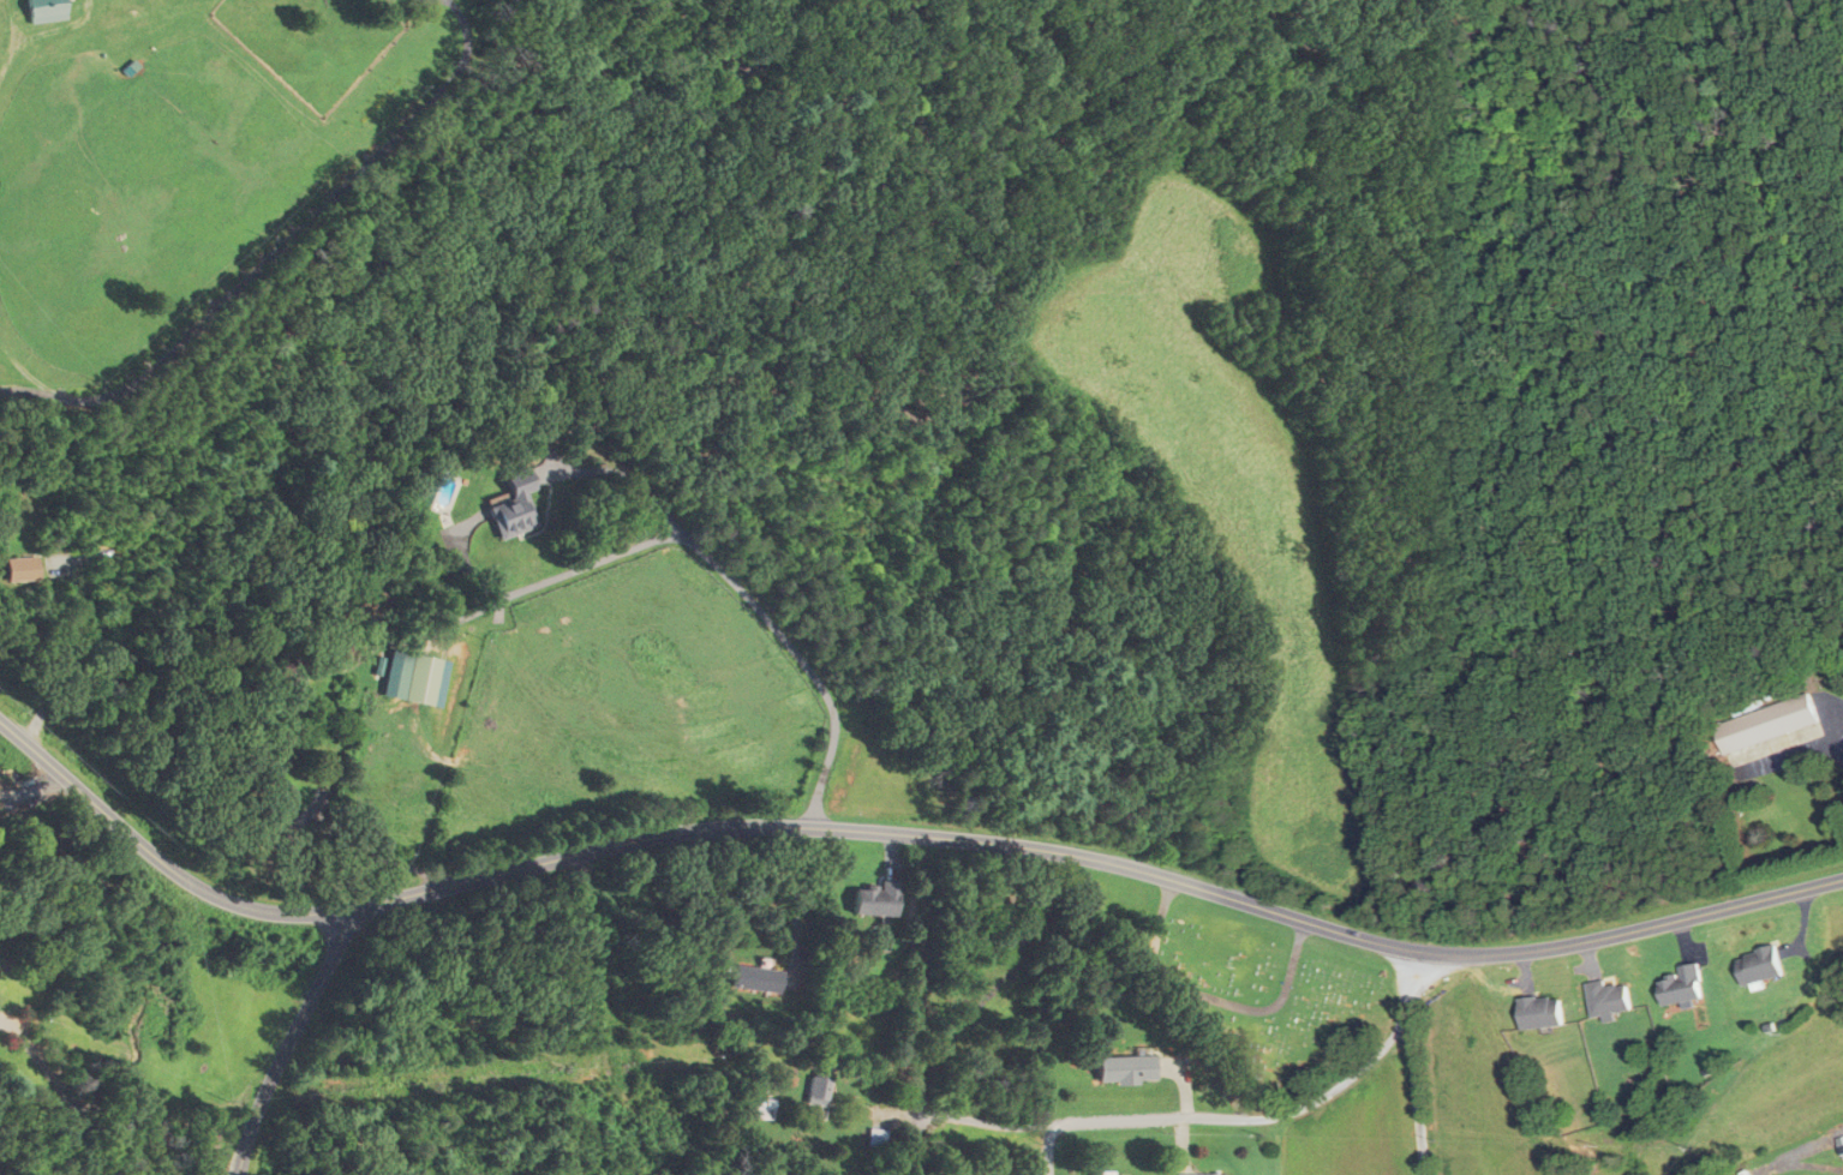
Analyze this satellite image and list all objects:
building: (42, 11)
road: (8, 25)
road: (54, 30)
road: (4, 61)
building: (513, 506)
road: (712, 557)
building: (20, 570)
building: (297, 678)
building: (414, 679)
building: (1765, 724)
road: (31, 750)
road: (1791, 753)
road: (32, 791)
road: (937, 837)
building: (874, 900)
road: (795, 907)
building: (1758, 965)
building: (758, 978)
building: (1681, 985)
park: (1246, 988)
building: (1605, 999)
building: (1538, 1012)
road: (289, 1042)
road: (1412, 1061)
building: (1125, 1069)
building: (818, 1090)
road: (1181, 1120)
building: (876, 1138)
building: (1839, 1144)
road: (915, 1145)
road: (1047, 1152)

